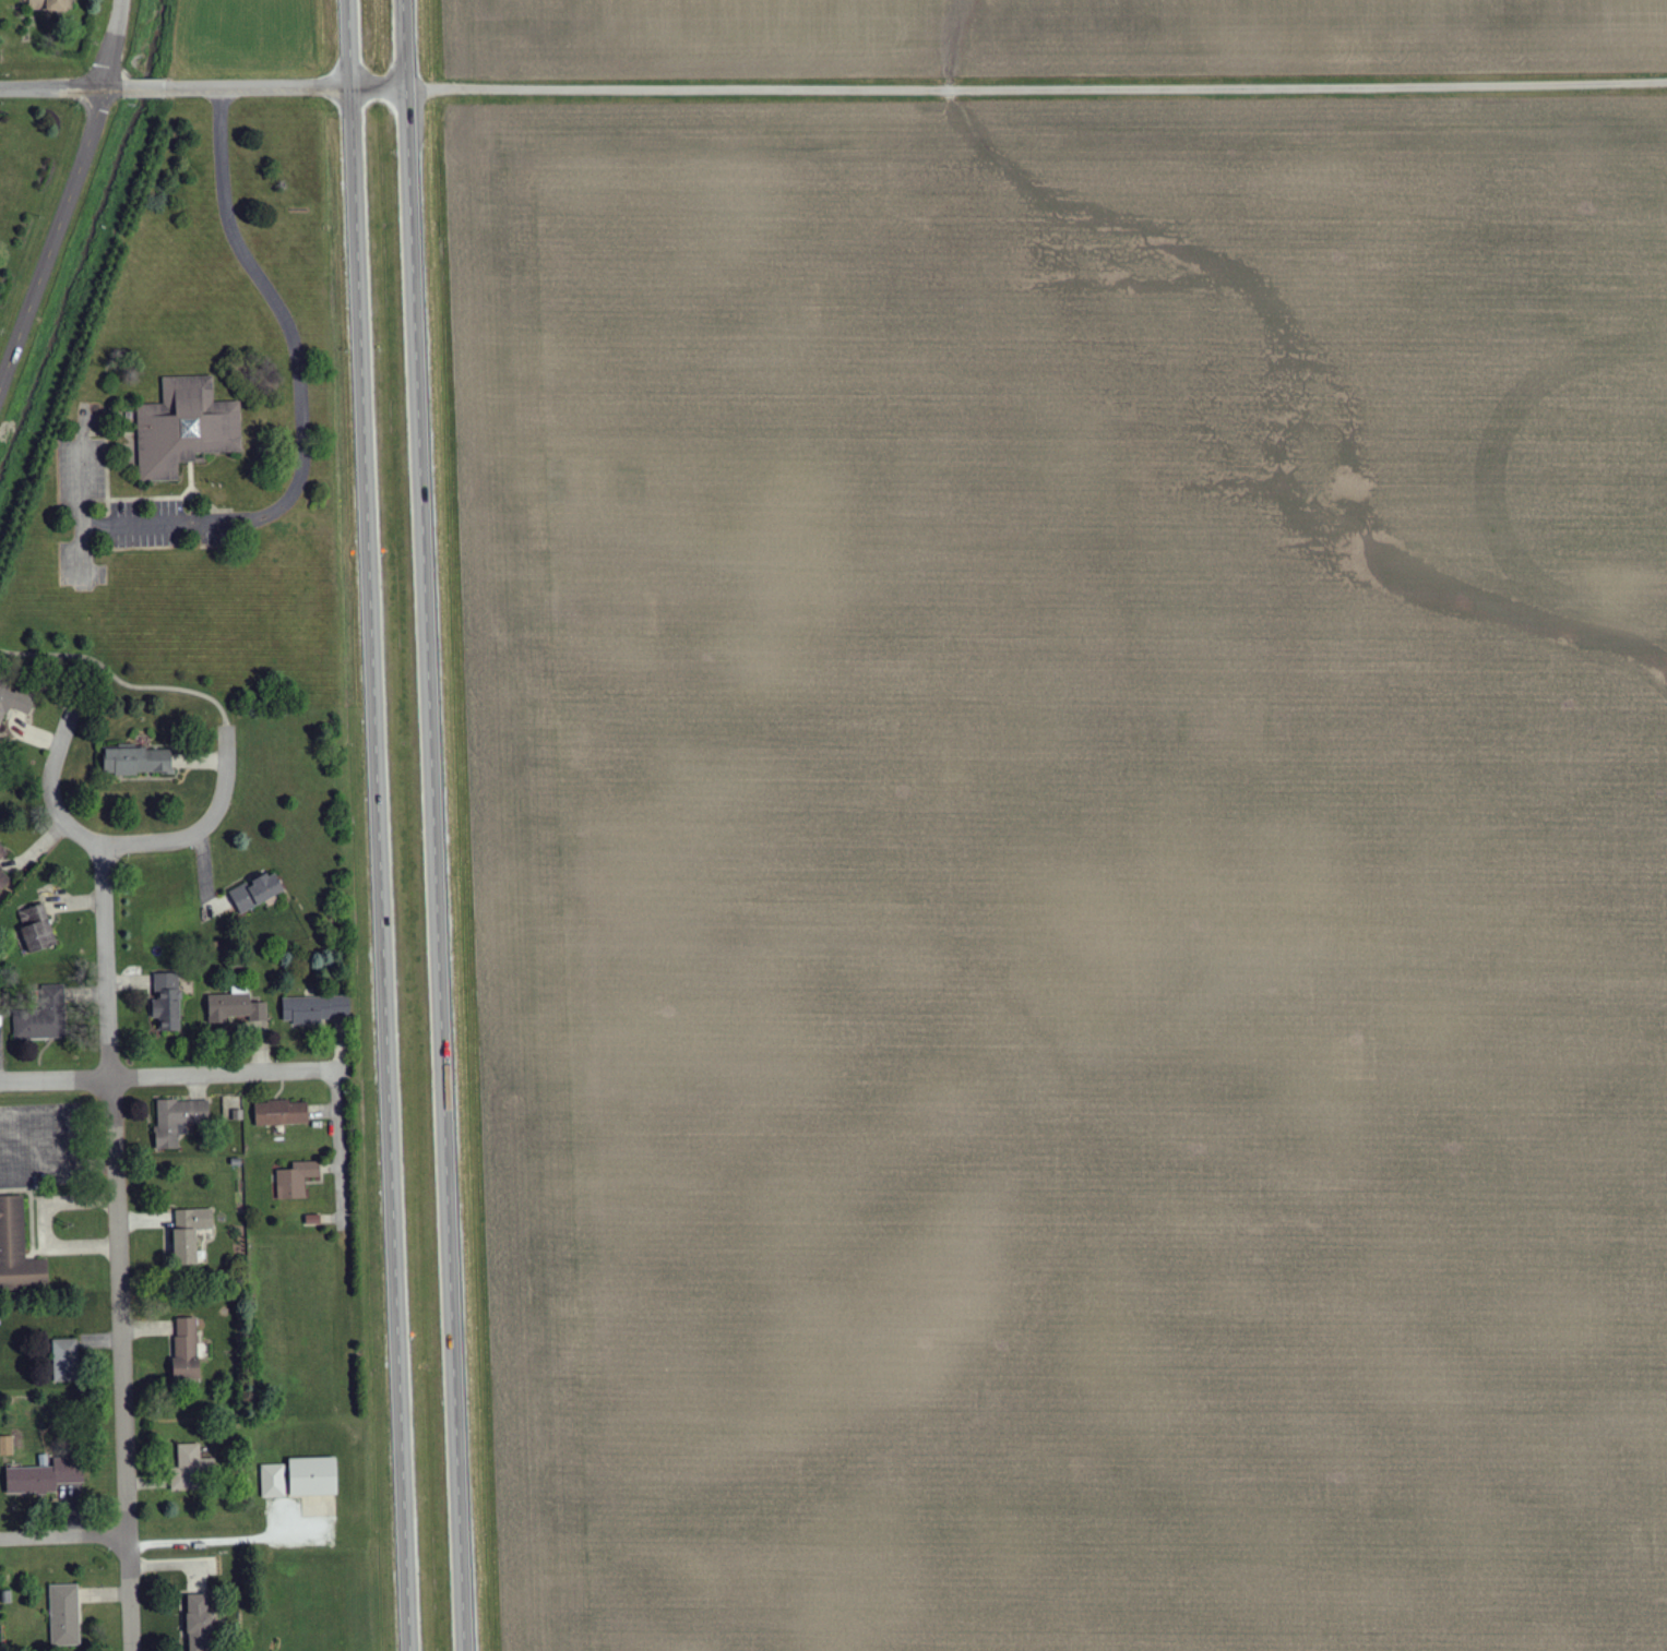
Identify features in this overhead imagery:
building: (48, 4)
road: (108, 43)
road: (63, 84)
road: (148, 85)
road: (917, 87)
road: (51, 237)
road: (299, 388)
building: (183, 427)
road: (85, 495)
parking lot: (166, 526)
road: (119, 681)
building: (13, 703)
building: (136, 761)
road: (51, 782)
road: (380, 825)
road: (436, 825)
road: (204, 828)
building: (2, 852)
crop: (1070, 870)
building: (3, 880)
building: (257, 890)
building: (36, 928)
building: (167, 1001)
building: (235, 1007)
building: (314, 1008)
building: (43, 1016)
road: (166, 1070)
building: (233, 1106)
building: (281, 1113)
building: (178, 1120)
road: (337, 1145)
building: (296, 1180)
building: (189, 1232)
road: (115, 1247)
building: (17, 1249)
building: (186, 1349)
building: (64, 1360)
building: (5, 1445)
building: (189, 1468)
building: (45, 1476)
building: (313, 1476)
building: (272, 1481)
road: (198, 1539)
road: (62, 1540)
building: (64, 1615)
building: (199, 1623)

